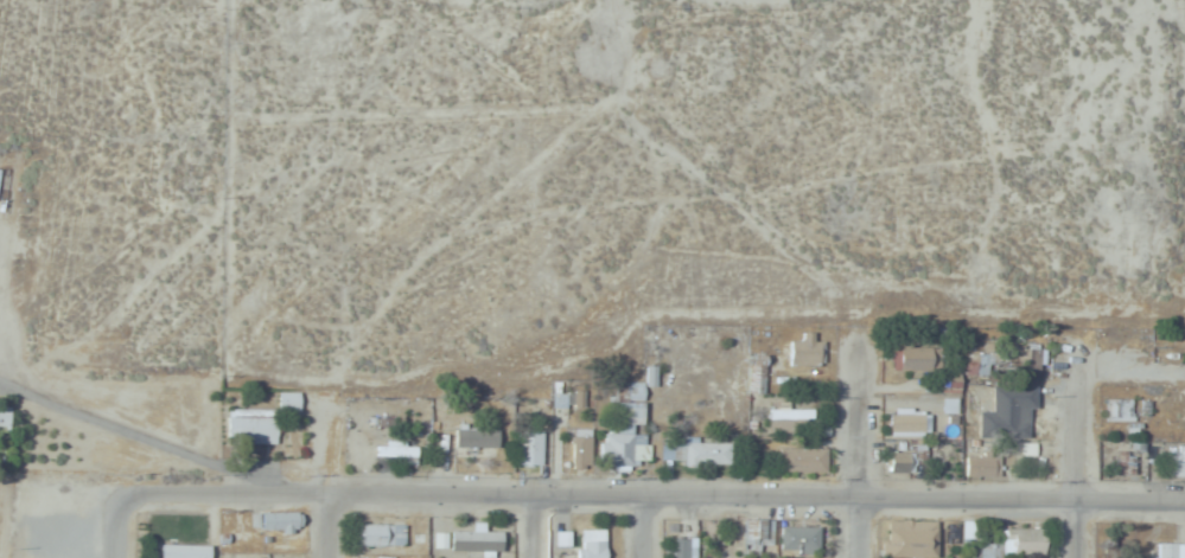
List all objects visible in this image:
building: (805, 351)
building: (917, 358)
building: (1026, 359)
building: (981, 365)
building: (287, 402)
building: (1120, 410)
building: (5, 413)
building: (790, 418)
building: (905, 423)
building: (250, 426)
building: (626, 429)
building: (476, 437)
road: (858, 444)
road: (1077, 445)
building: (528, 448)
building: (581, 448)
building: (1027, 449)
building: (359, 451)
building: (395, 451)
building: (696, 453)
building: (802, 460)
building: (1176, 460)
building: (898, 461)
building: (982, 463)
road: (326, 476)
road: (652, 495)
building: (279, 521)
road: (534, 526)
road: (642, 526)
road: (115, 528)
building: (968, 528)
building: (380, 535)
building: (758, 535)
building: (798, 539)
building: (910, 539)
building: (476, 541)
building: (1018, 543)
building: (593, 544)
building: (682, 547)
building: (1170, 550)
building: (183, 551)

